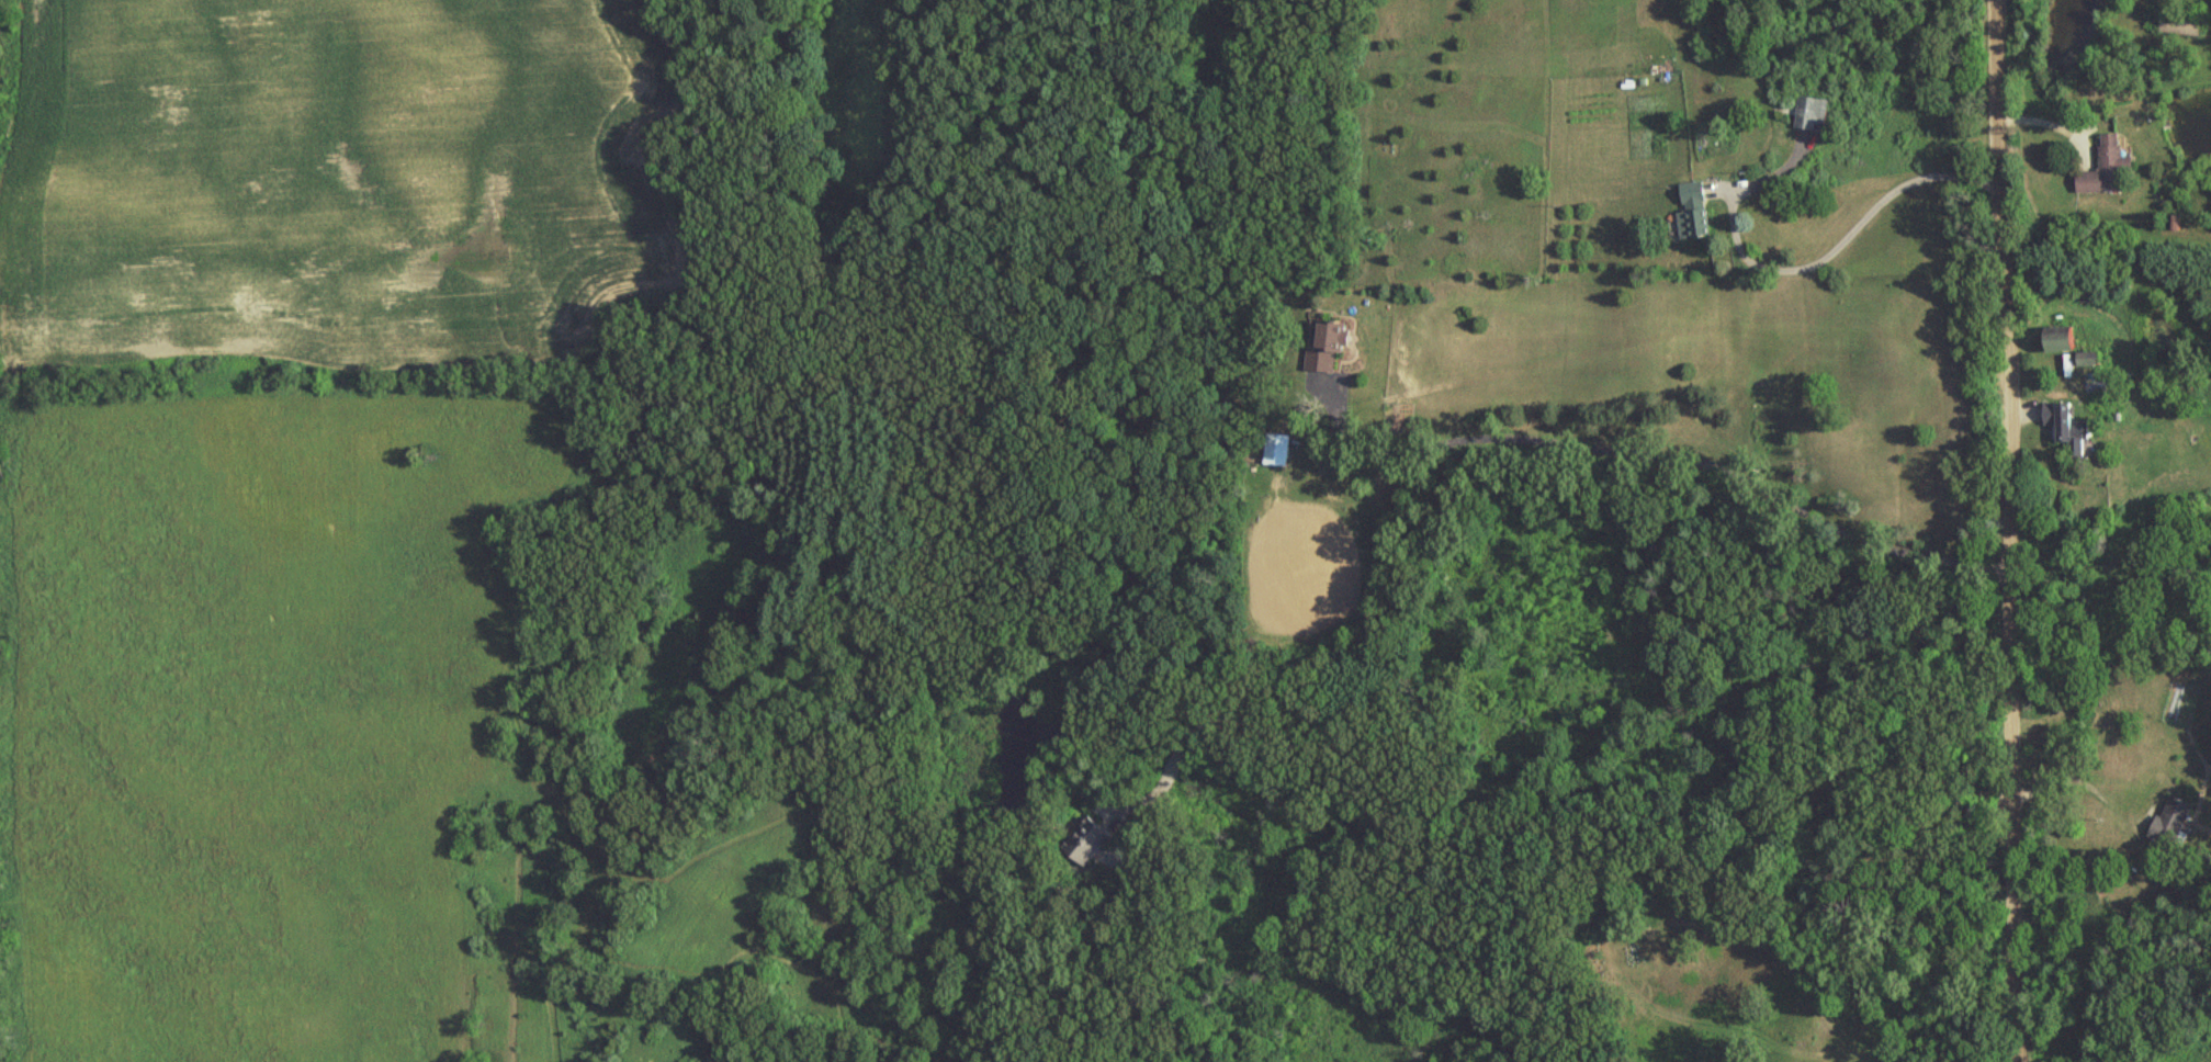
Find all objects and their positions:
building: (2176, 26)
building: (1805, 116)
building: (2100, 171)
building: (1690, 212)
road: (1846, 242)
building: (1330, 347)
building: (2061, 430)
building: (1278, 451)
road: (1667, 453)
road: (2009, 530)
road: (2129, 816)
road: (1561, 823)
building: (2165, 824)
building: (1097, 838)

